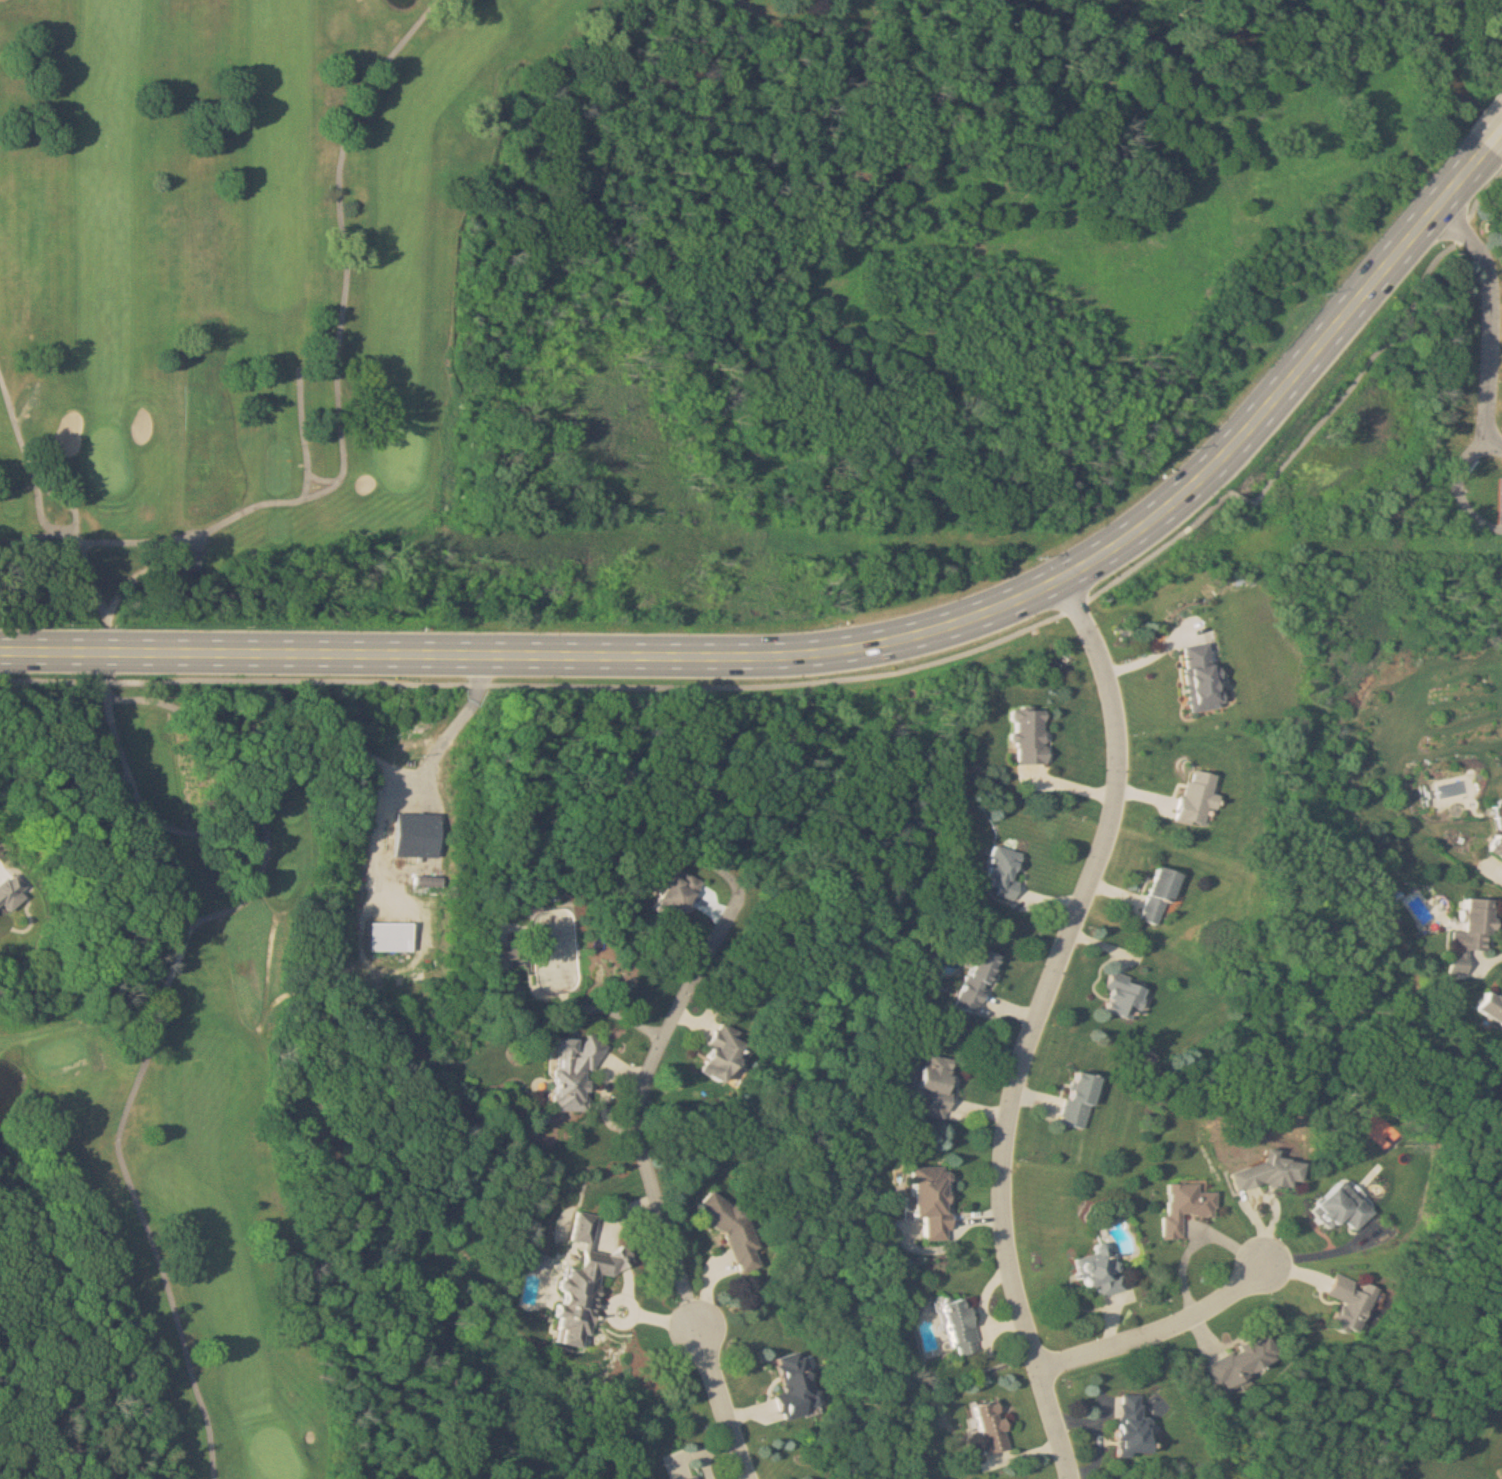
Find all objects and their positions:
river: (1194, 54)
river: (1454, 78)
road: (1490, 126)
road: (1490, 309)
park: (402, 456)
park: (107, 463)
road: (1462, 482)
parking lot: (1501, 498)
building: (192, 561)
road: (838, 642)
park: (320, 651)
road: (947, 659)
building: (1202, 677)
road: (27, 680)
road: (108, 682)
road: (116, 729)
building: (1032, 737)
road: (425, 772)
building: (1198, 798)
road: (76, 811)
road: (270, 834)
building: (424, 836)
building: (1499, 843)
building: (1005, 872)
building: (436, 882)
building: (679, 896)
building: (1161, 896)
building: (1474, 935)
building: (400, 937)
building: (980, 981)
building: (1127, 998)
building: (1491, 1007)
road: (1038, 1019)
building: (724, 1055)
building: (575, 1072)
building: (940, 1085)
building: (1081, 1100)
road: (639, 1105)
road: (126, 1117)
building: (1272, 1173)
building: (933, 1201)
building: (1187, 1208)
building: (1343, 1208)
building: (733, 1229)
road: (1316, 1251)
building: (539, 1261)
building: (1103, 1273)
building: (586, 1284)
building: (1353, 1303)
building: (961, 1326)
road: (1159, 1330)
building: (1247, 1362)
building: (796, 1384)
road: (722, 1404)
building: (992, 1427)
building: (1136, 1428)
park: (275, 1452)
building: (698, 1478)

